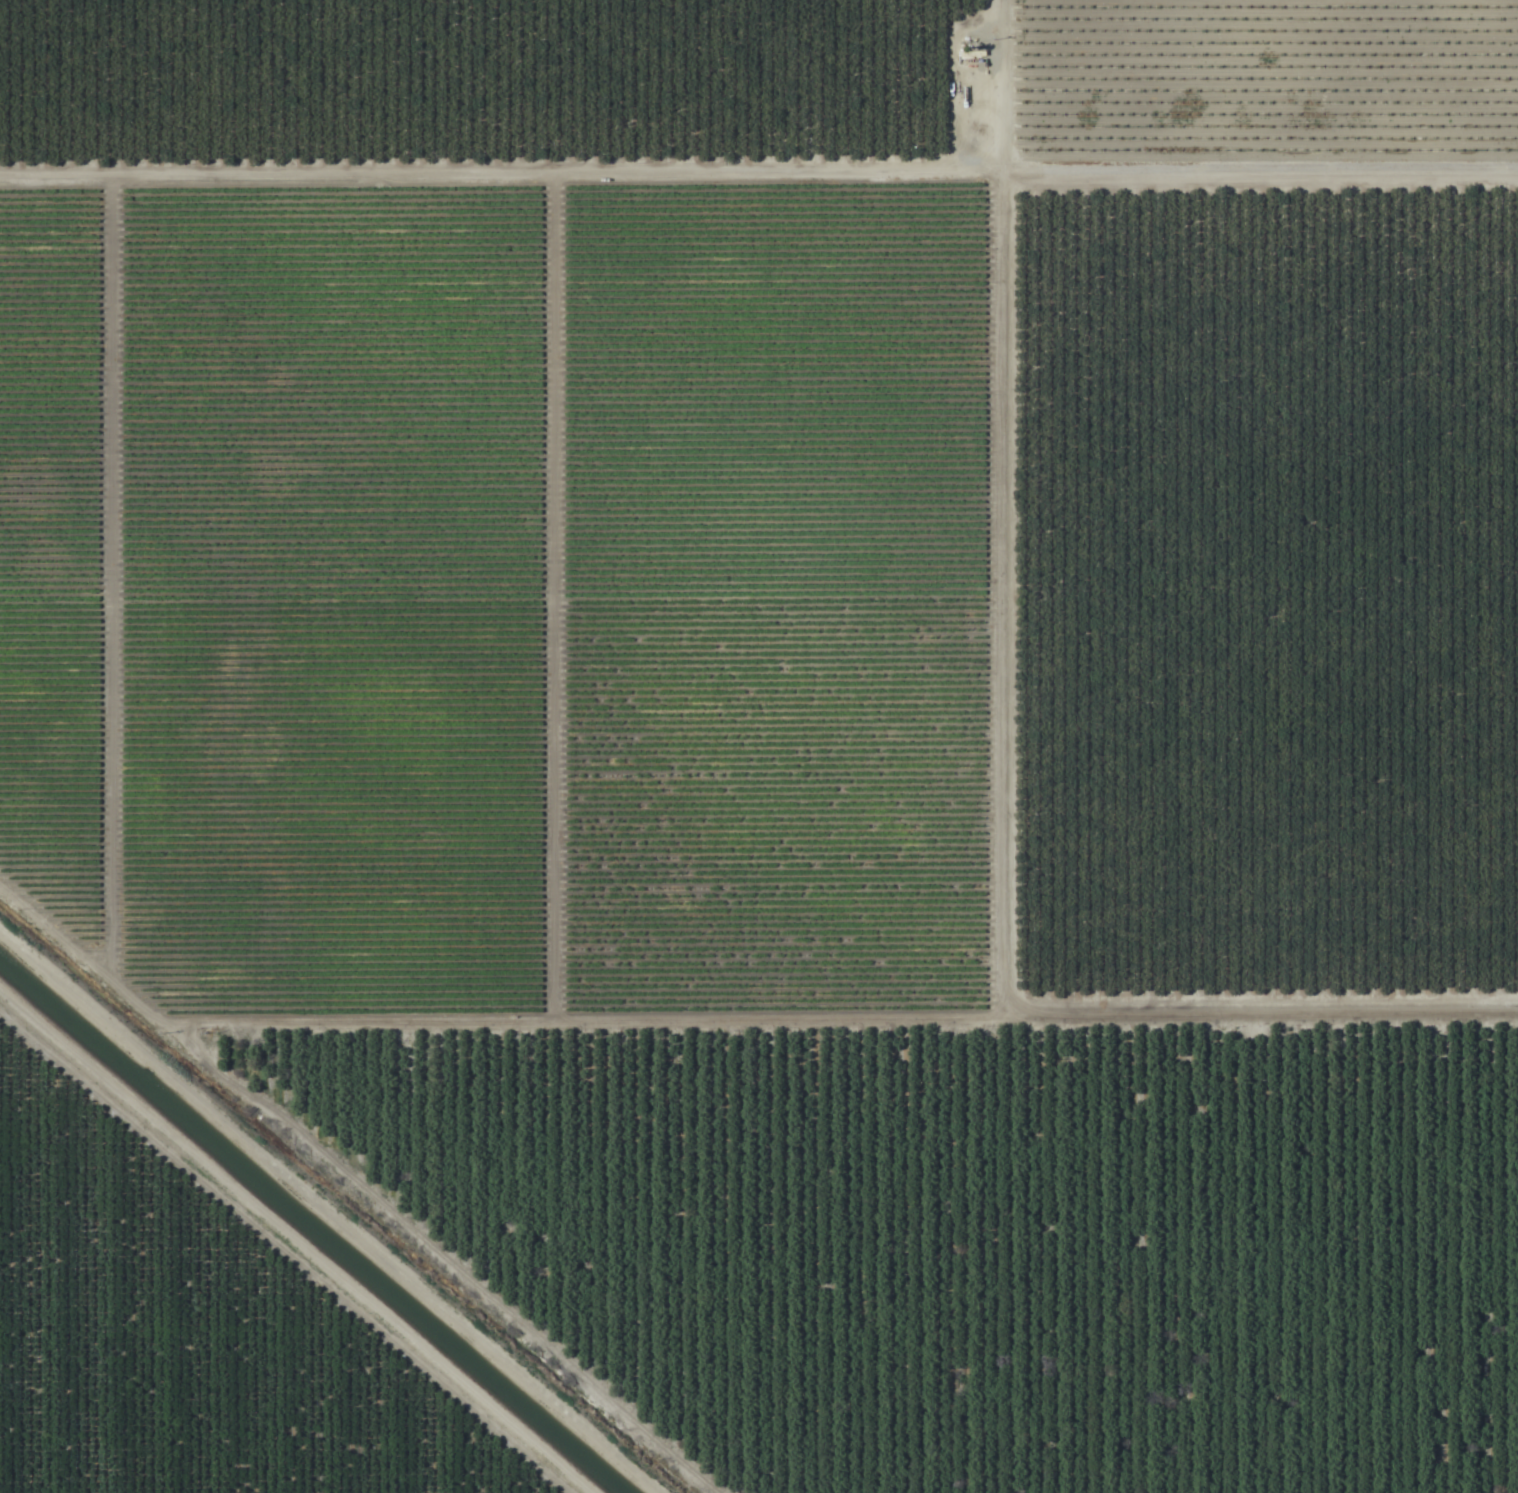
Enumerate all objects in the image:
road: (1030, 505)
crop: (759, 746)
road: (1275, 1026)
road: (296, 1243)

